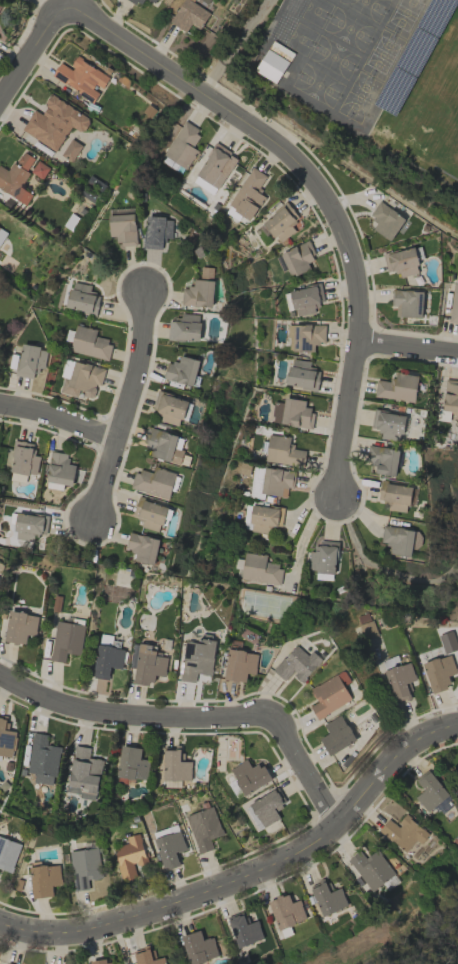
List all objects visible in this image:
building: (152, 0)
building: (136, 1)
building: (1, 3)
building: (189, 15)
road: (234, 43)
road: (30, 50)
building: (271, 65)
building: (81, 78)
building: (54, 122)
building: (182, 144)
building: (71, 150)
building: (216, 166)
building: (39, 169)
building: (16, 177)
road: (321, 192)
building: (248, 194)
building: (385, 220)
building: (281, 222)
building: (122, 228)
building: (157, 231)
building: (2, 234)
building: (297, 258)
building: (401, 262)
building: (206, 273)
building: (198, 294)
building: (82, 298)
building: (305, 299)
building: (407, 303)
building: (454, 303)
building: (185, 327)
building: (305, 336)
building: (89, 343)
road: (409, 348)
building: (30, 360)
building: (302, 375)
building: (81, 378)
building: (397, 387)
building: (451, 399)
road: (118, 404)
building: (170, 408)
building: (292, 413)
road: (55, 422)
building: (389, 425)
building: (165, 446)
building: (282, 451)
building: (23, 458)
building: (382, 459)
building: (59, 471)
building: (153, 482)
building: (395, 496)
building: (151, 515)
building: (264, 518)
building: (29, 526)
park: (442, 537)
building: (399, 540)
building: (142, 547)
building: (322, 557)
road: (383, 568)
building: (259, 569)
building: (363, 618)
building: (20, 626)
building: (367, 630)
building: (66, 640)
building: (196, 658)
building: (107, 660)
building: (297, 664)
building: (148, 665)
building: (239, 665)
building: (439, 672)
building: (399, 681)
building: (328, 696)
road: (197, 715)
building: (336, 735)
building: (6, 738)
building: (42, 759)
building: (131, 764)
building: (174, 767)
building: (83, 773)
building: (249, 776)
building: (429, 791)
building: (204, 828)
building: (403, 832)
building: (169, 848)
building: (8, 853)
building: (129, 856)
building: (84, 867)
road: (248, 869)
building: (371, 869)
building: (43, 879)
building: (328, 898)
building: (286, 911)
building: (244, 930)
park: (403, 935)
building: (199, 947)
building: (146, 957)
building: (100, 961)

